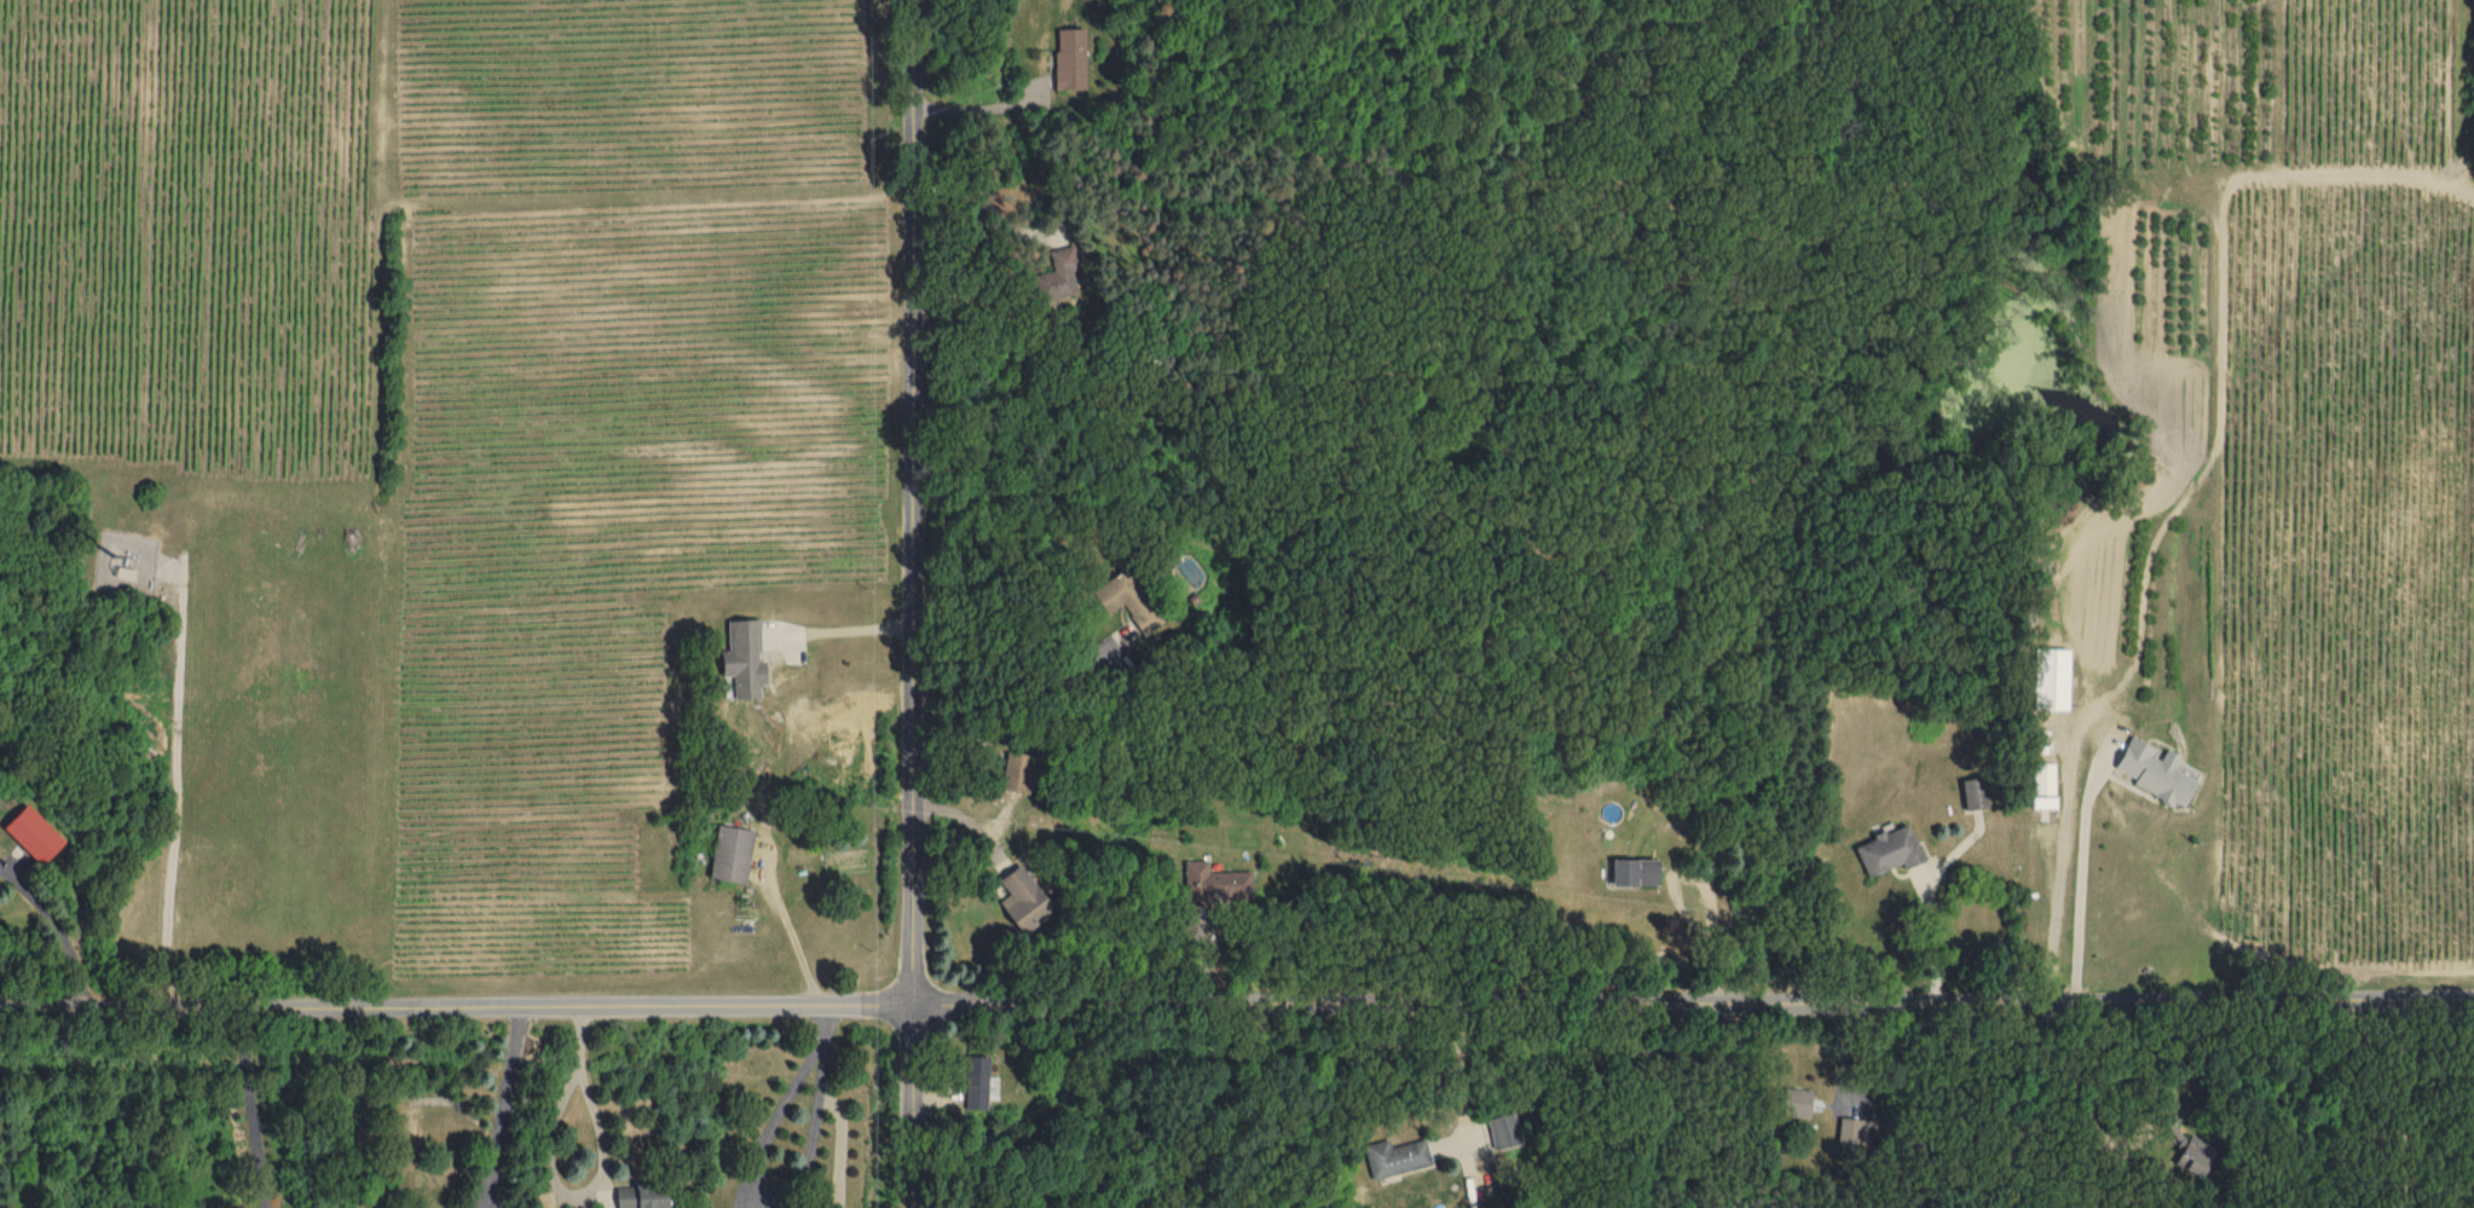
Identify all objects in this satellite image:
building: (1070, 57)
road: (984, 103)
road: (985, 204)
building: (1057, 274)
building: (1126, 599)
road: (915, 603)
road: (846, 630)
building: (745, 657)
building: (2050, 677)
road: (1011, 678)
building: (1018, 770)
building: (2154, 770)
building: (2044, 784)
building: (1975, 791)
building: (34, 832)
building: (732, 851)
building: (1635, 869)
building: (1215, 880)
road: (2080, 882)
building: (1023, 896)
road: (1929, 934)
road: (62, 938)
road: (1237, 1004)
road: (2071, 1074)
building: (975, 1079)
building: (1796, 1099)
road: (2399, 1102)
road: (501, 1104)
road: (248, 1108)
road: (1459, 1122)
building: (1503, 1128)
building: (1855, 1129)
building: (1394, 1155)
road: (599, 1183)
road: (752, 1185)
building: (641, 1195)
building: (593, 1207)

